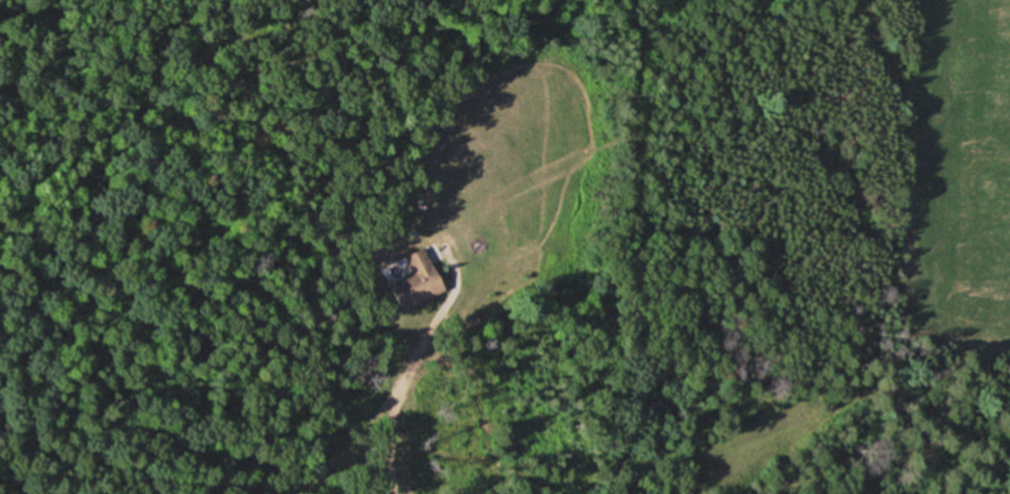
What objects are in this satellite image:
building: (416, 281)
road: (386, 405)

